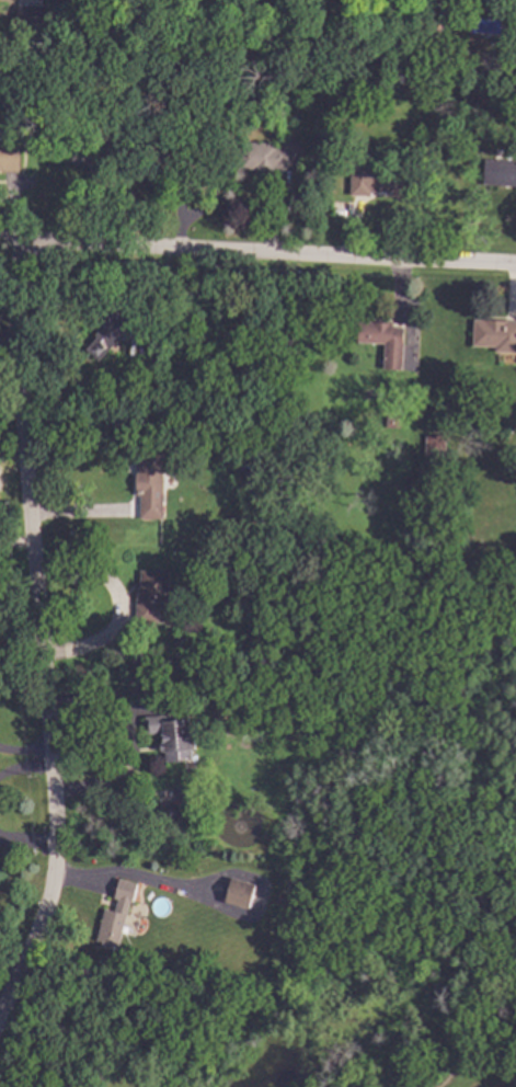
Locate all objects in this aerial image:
building: (31, 15)
building: (222, 58)
building: (420, 65)
building: (313, 80)
building: (89, 150)
building: (275, 153)
building: (176, 155)
building: (10, 156)
building: (501, 172)
building: (380, 179)
road: (13, 243)
road: (271, 252)
building: (170, 329)
building: (111, 333)
building: (496, 334)
building: (386, 341)
building: (394, 422)
building: (437, 447)
building: (151, 483)
building: (293, 542)
building: (156, 596)
building: (255, 627)
road: (36, 631)
building: (174, 736)
road: (127, 744)
building: (177, 810)
building: (242, 892)
building: (119, 913)
building: (216, 1068)

